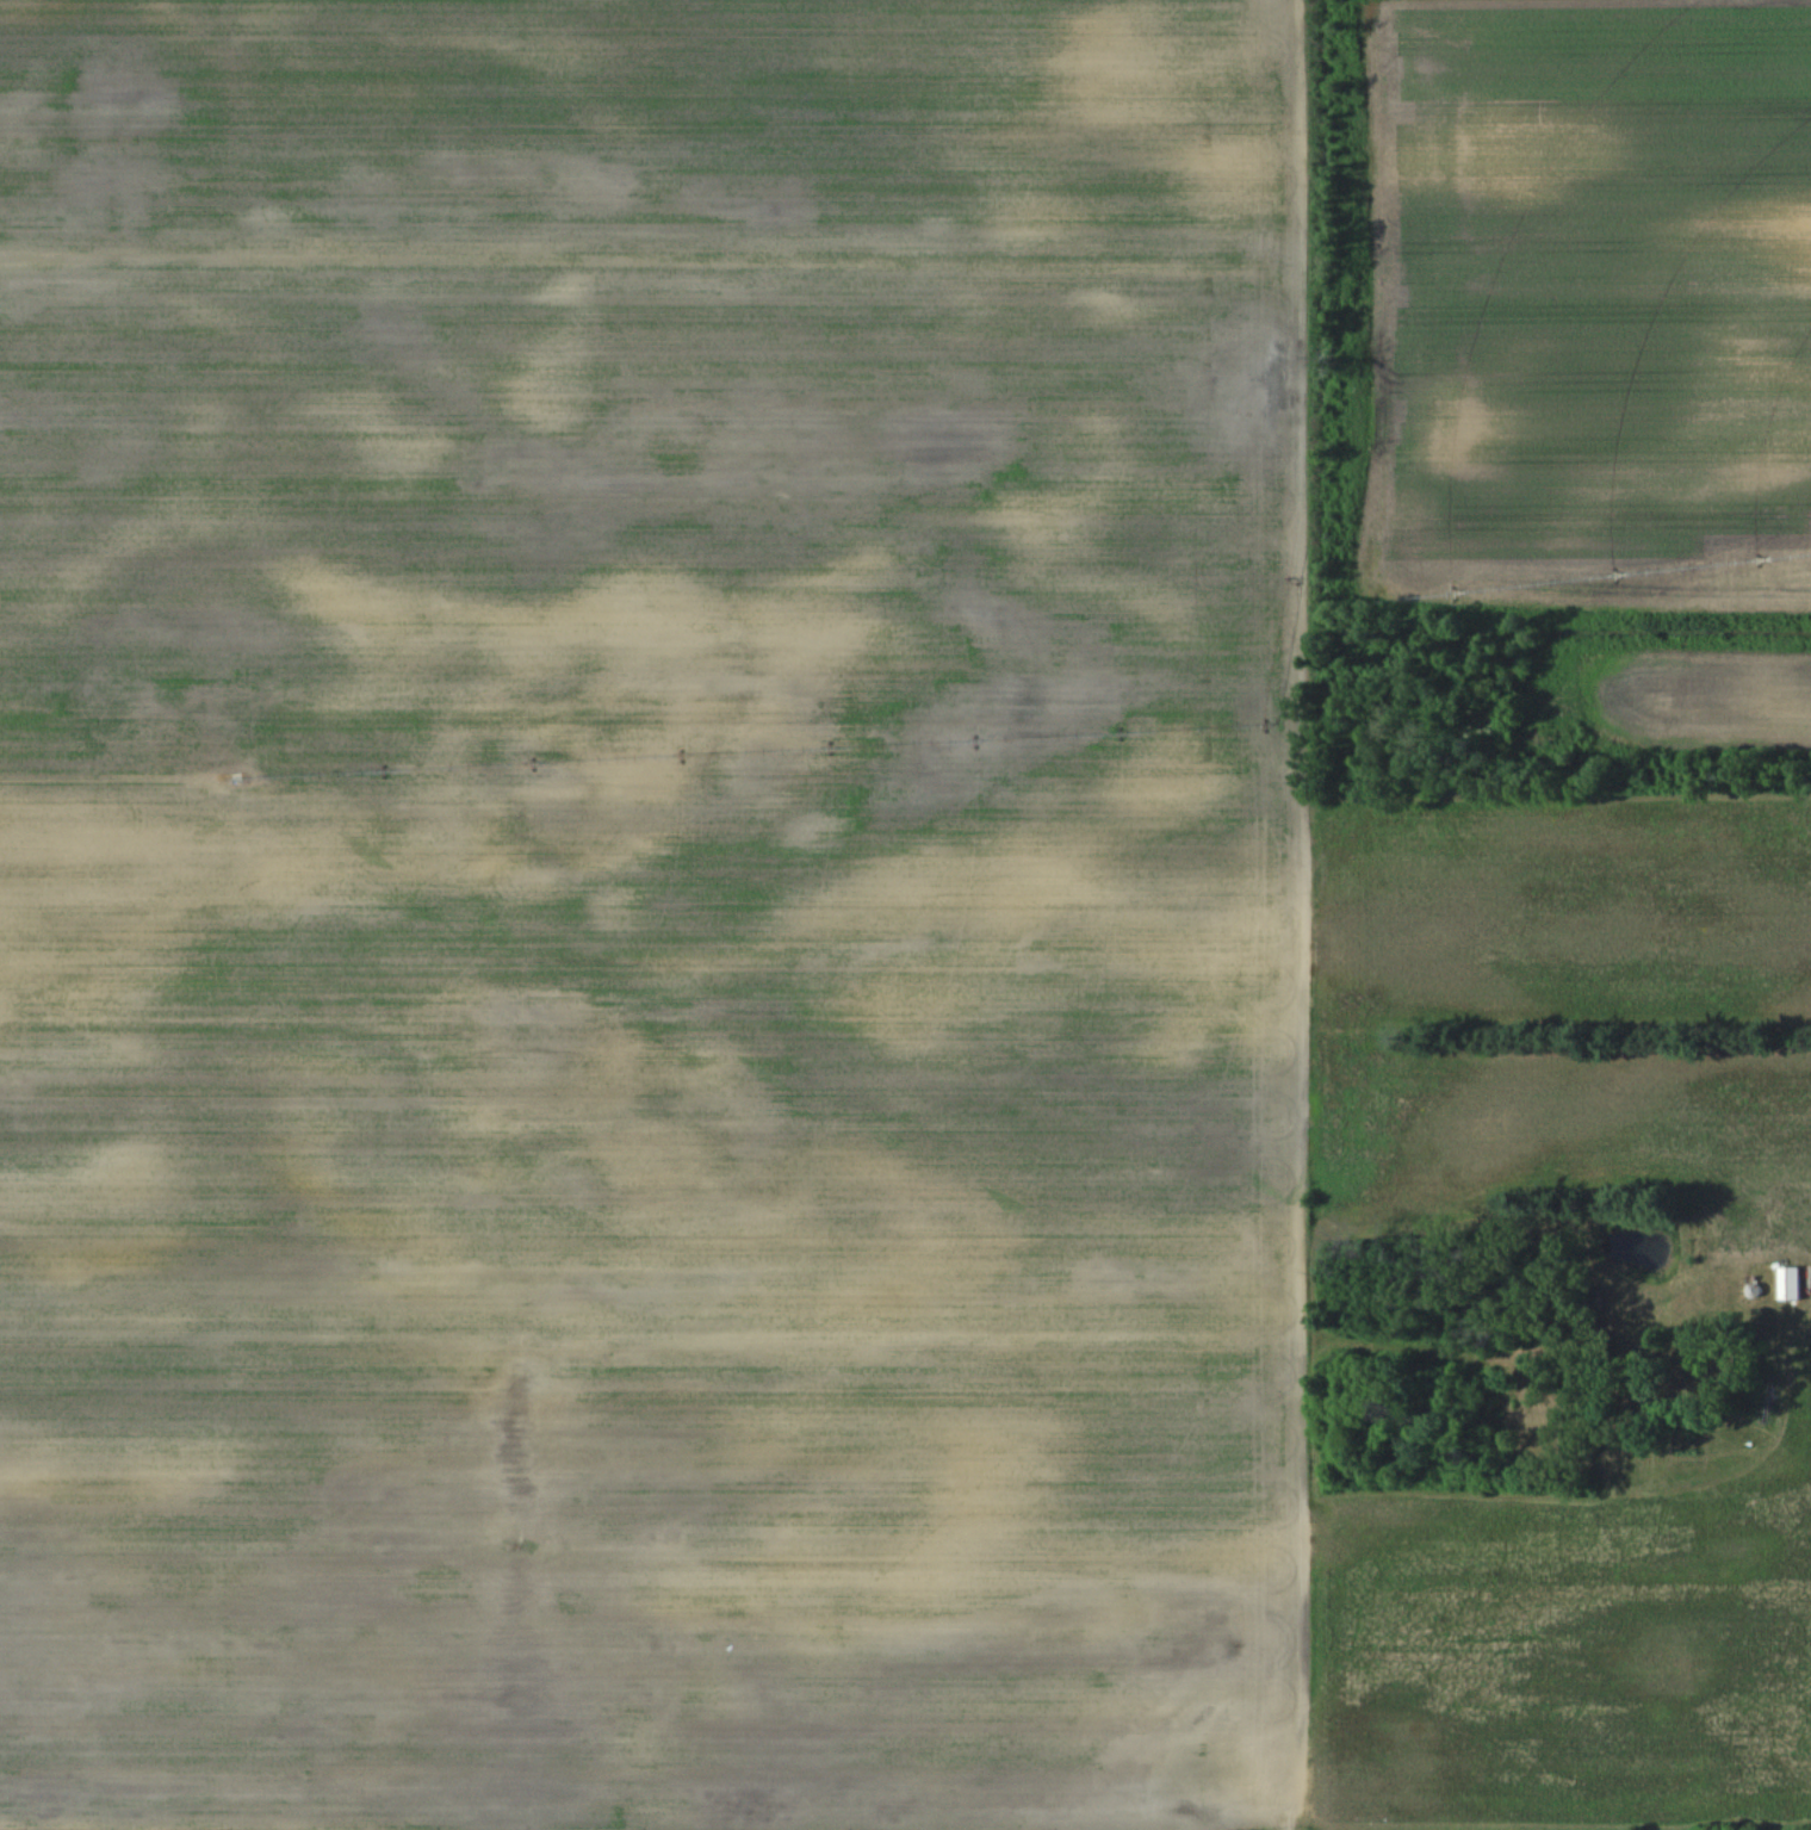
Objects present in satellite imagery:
building: (1790, 1282)

